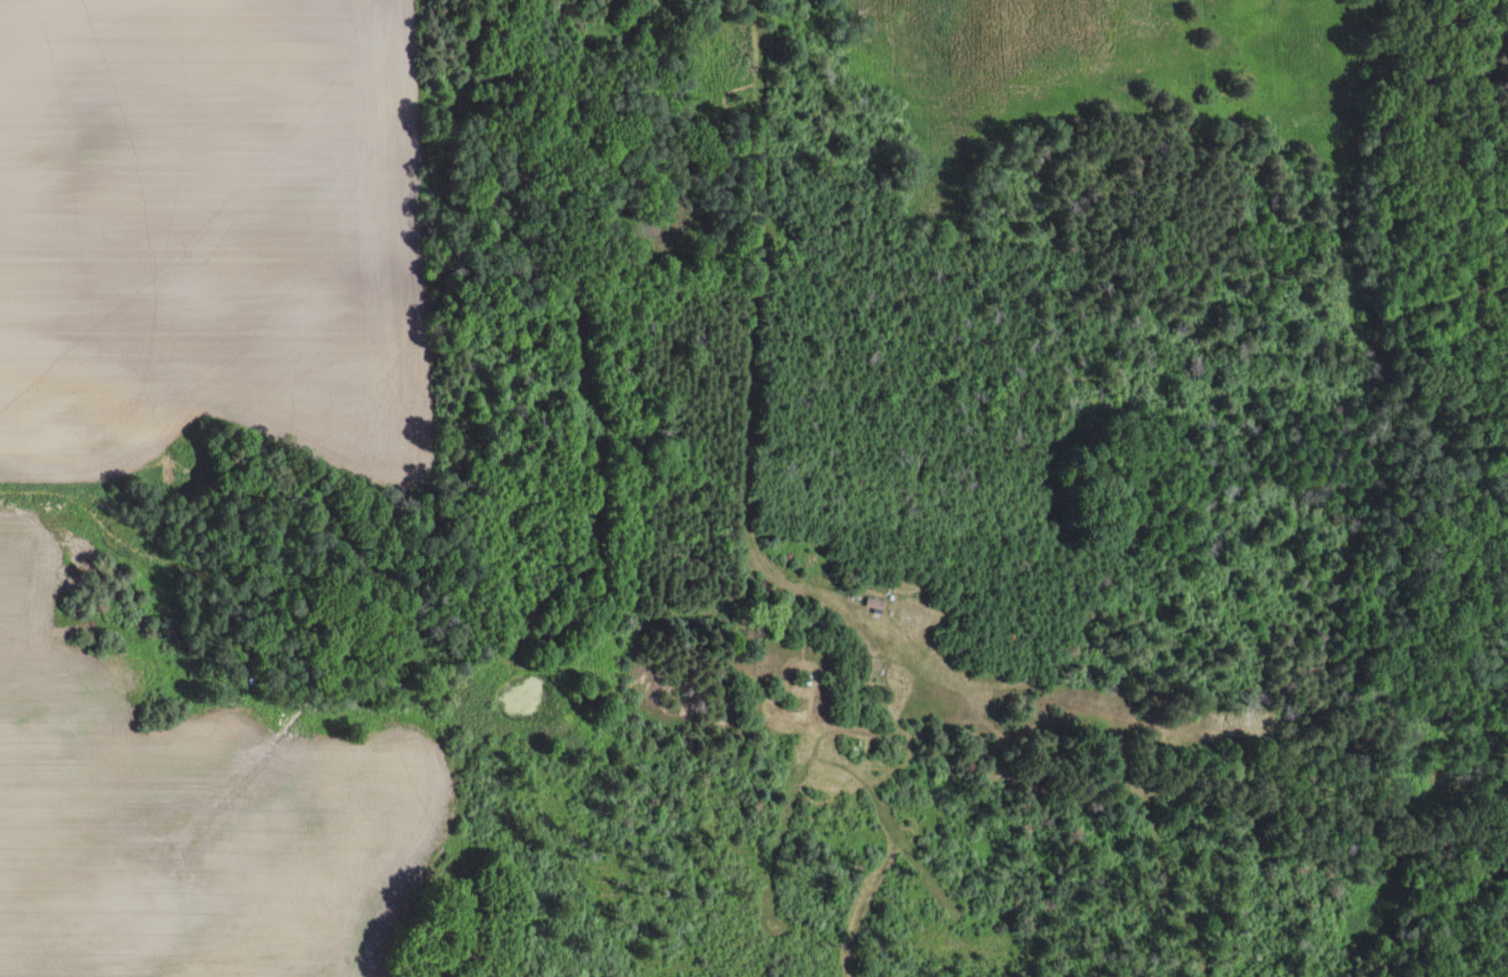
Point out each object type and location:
building: (874, 604)

